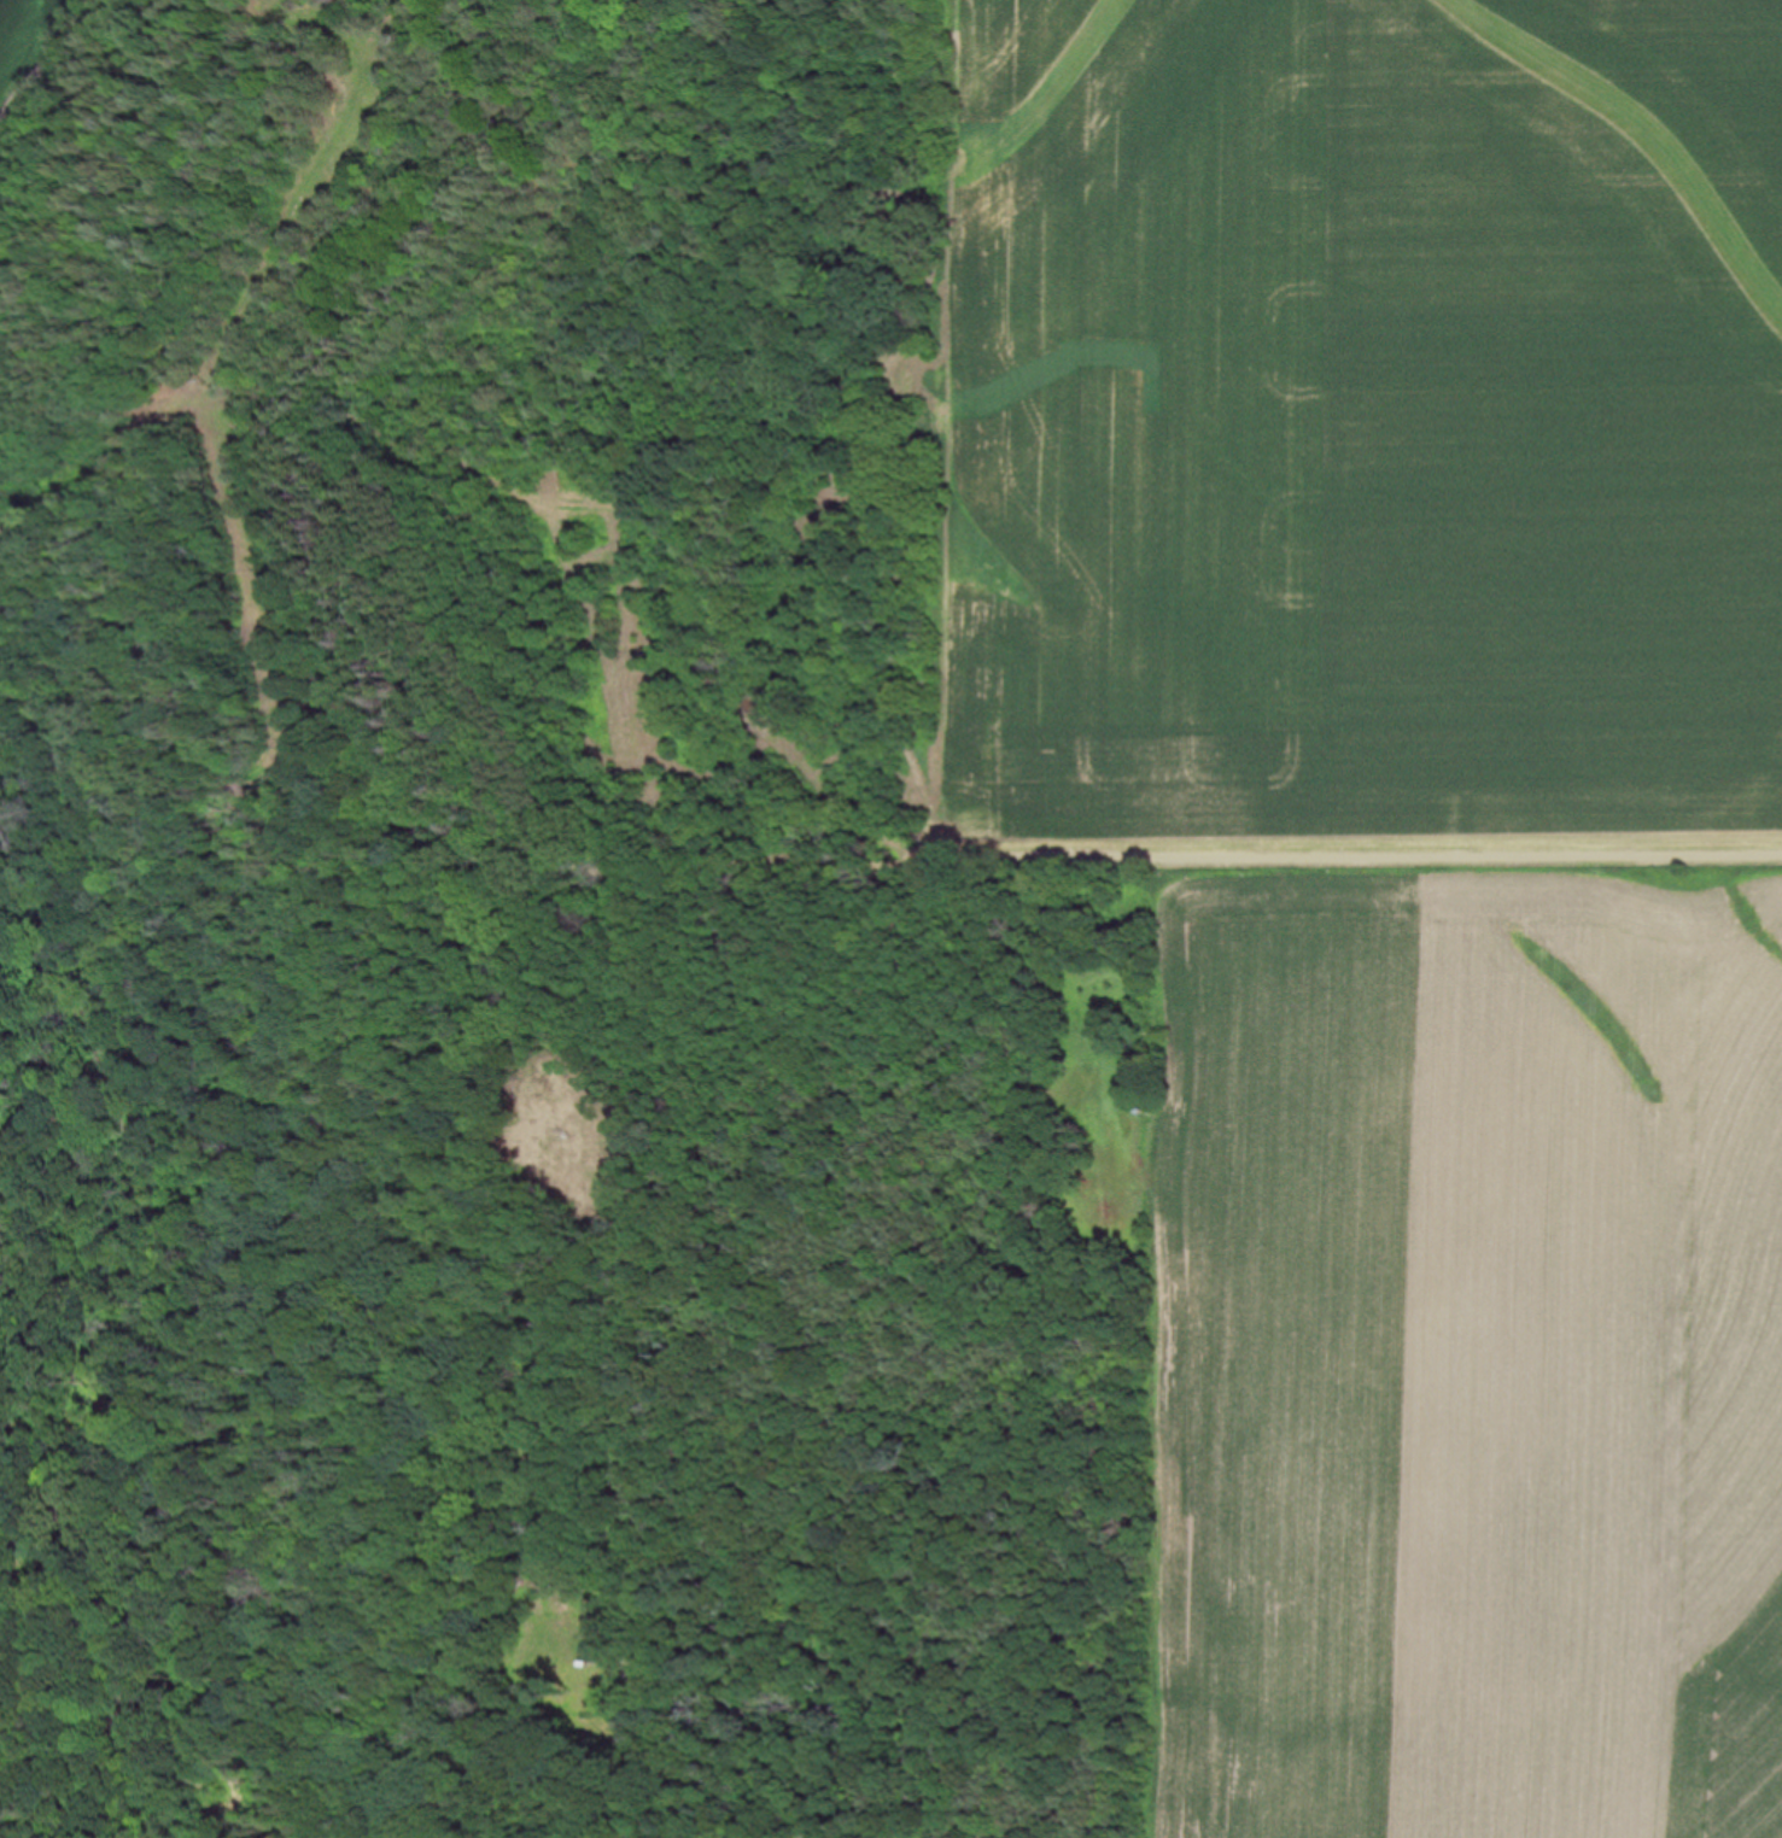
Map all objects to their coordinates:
crop: (1414, 857)

